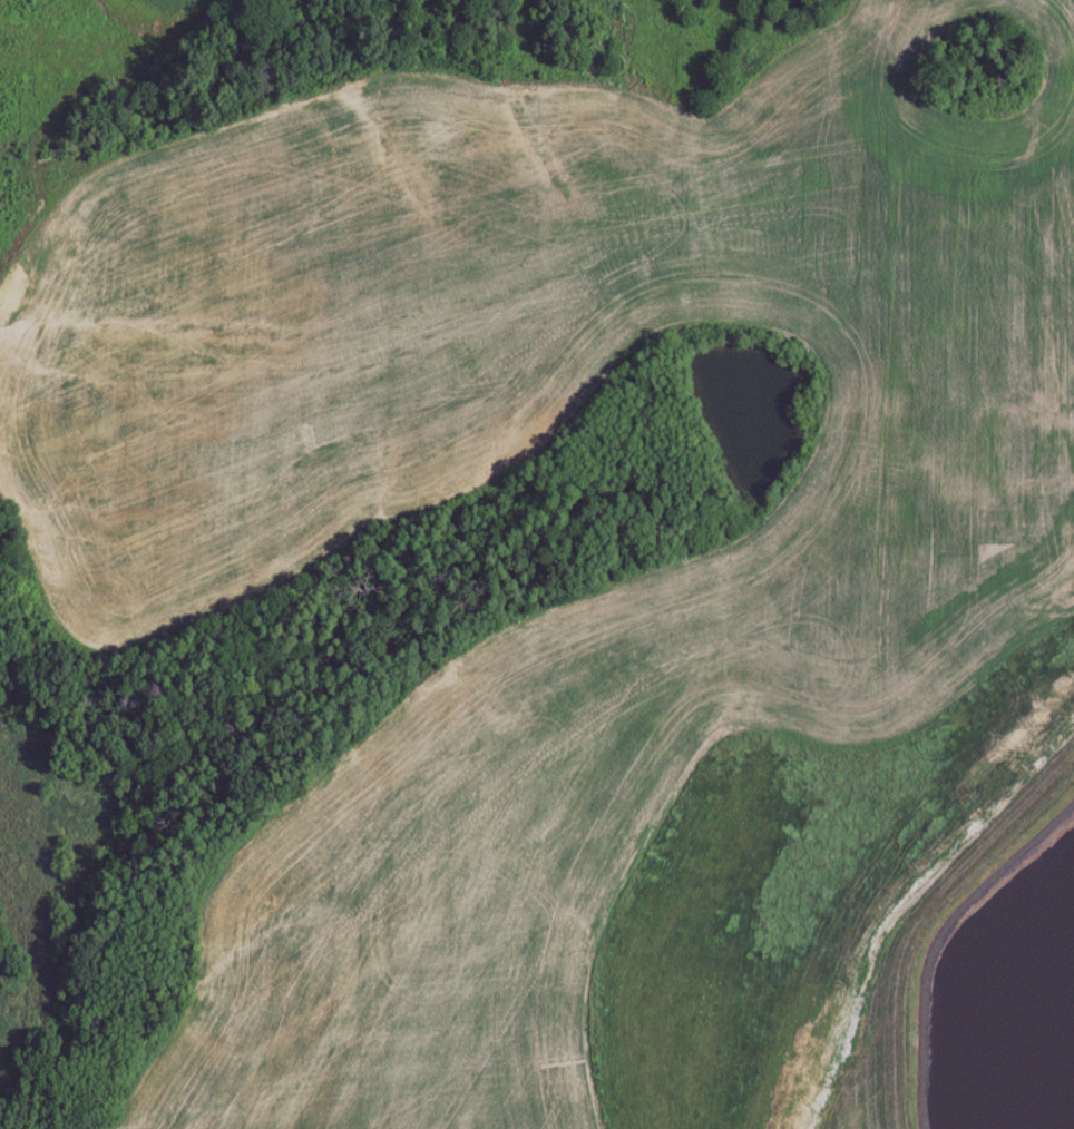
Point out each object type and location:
park: (979, 68)

